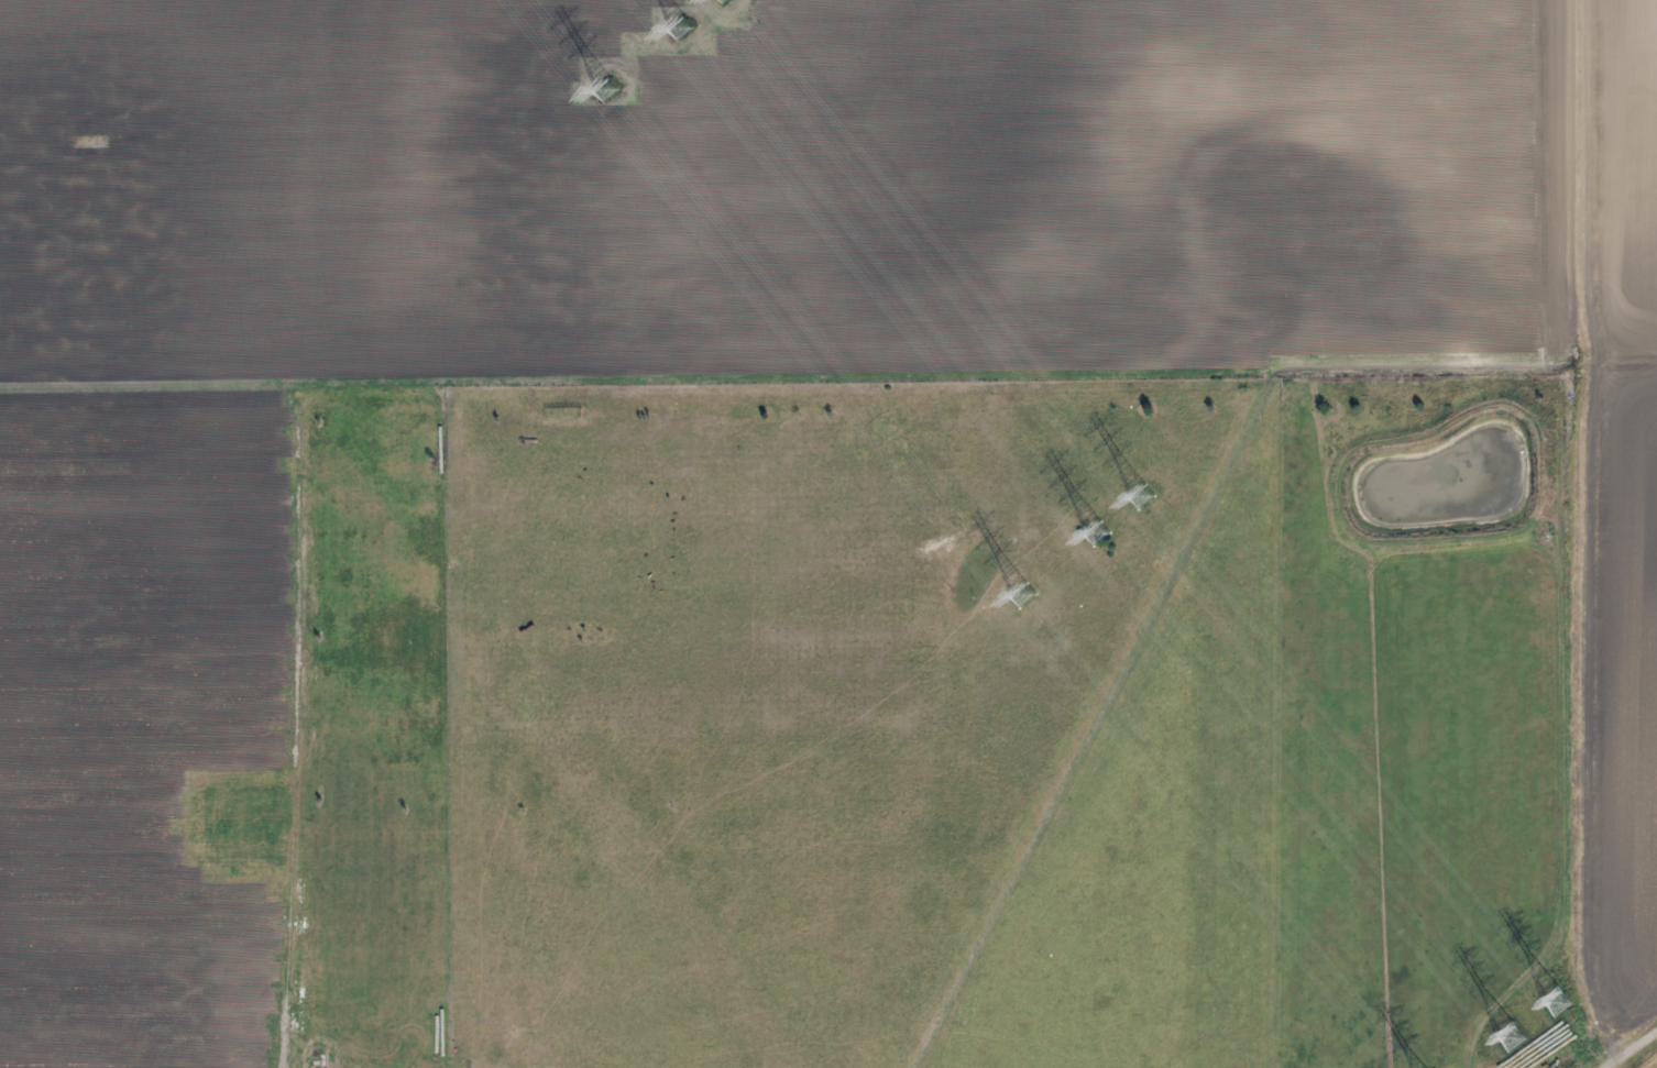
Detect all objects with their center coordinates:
power tower: (683, 29)
power tower: (608, 91)
power tower: (1143, 498)
power tower: (1098, 536)
power tower: (1023, 597)
power tower: (1557, 1004)
road: (1590, 1024)
power tower: (1512, 1038)

